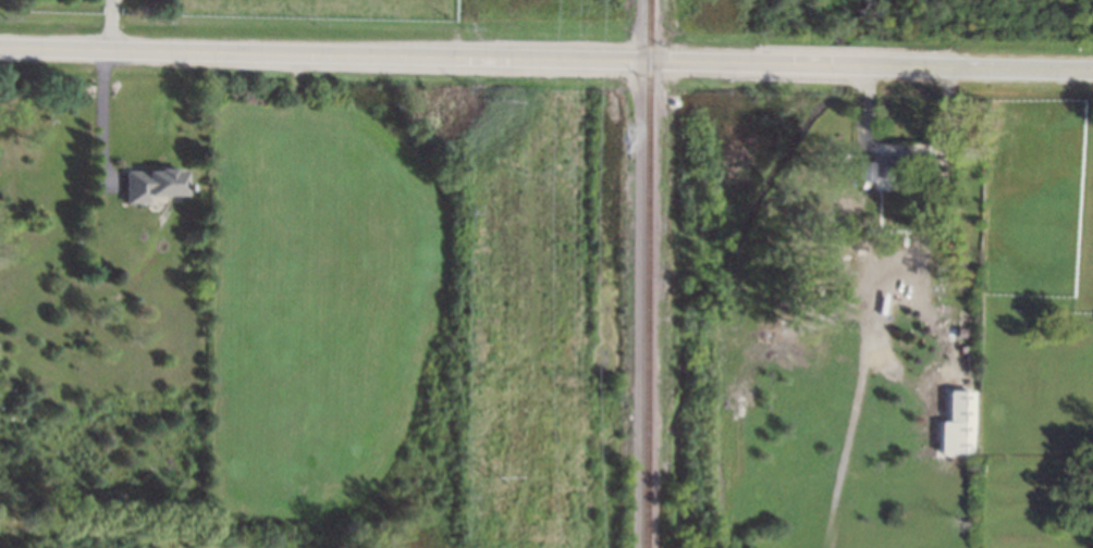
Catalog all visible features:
crop: (331, 8)
road: (111, 22)
road: (545, 54)
power tower: (498, 98)
road: (103, 111)
building: (886, 170)
building: (152, 184)
railway: (650, 274)
crop: (321, 309)
building: (959, 423)
power tower: (498, 474)

